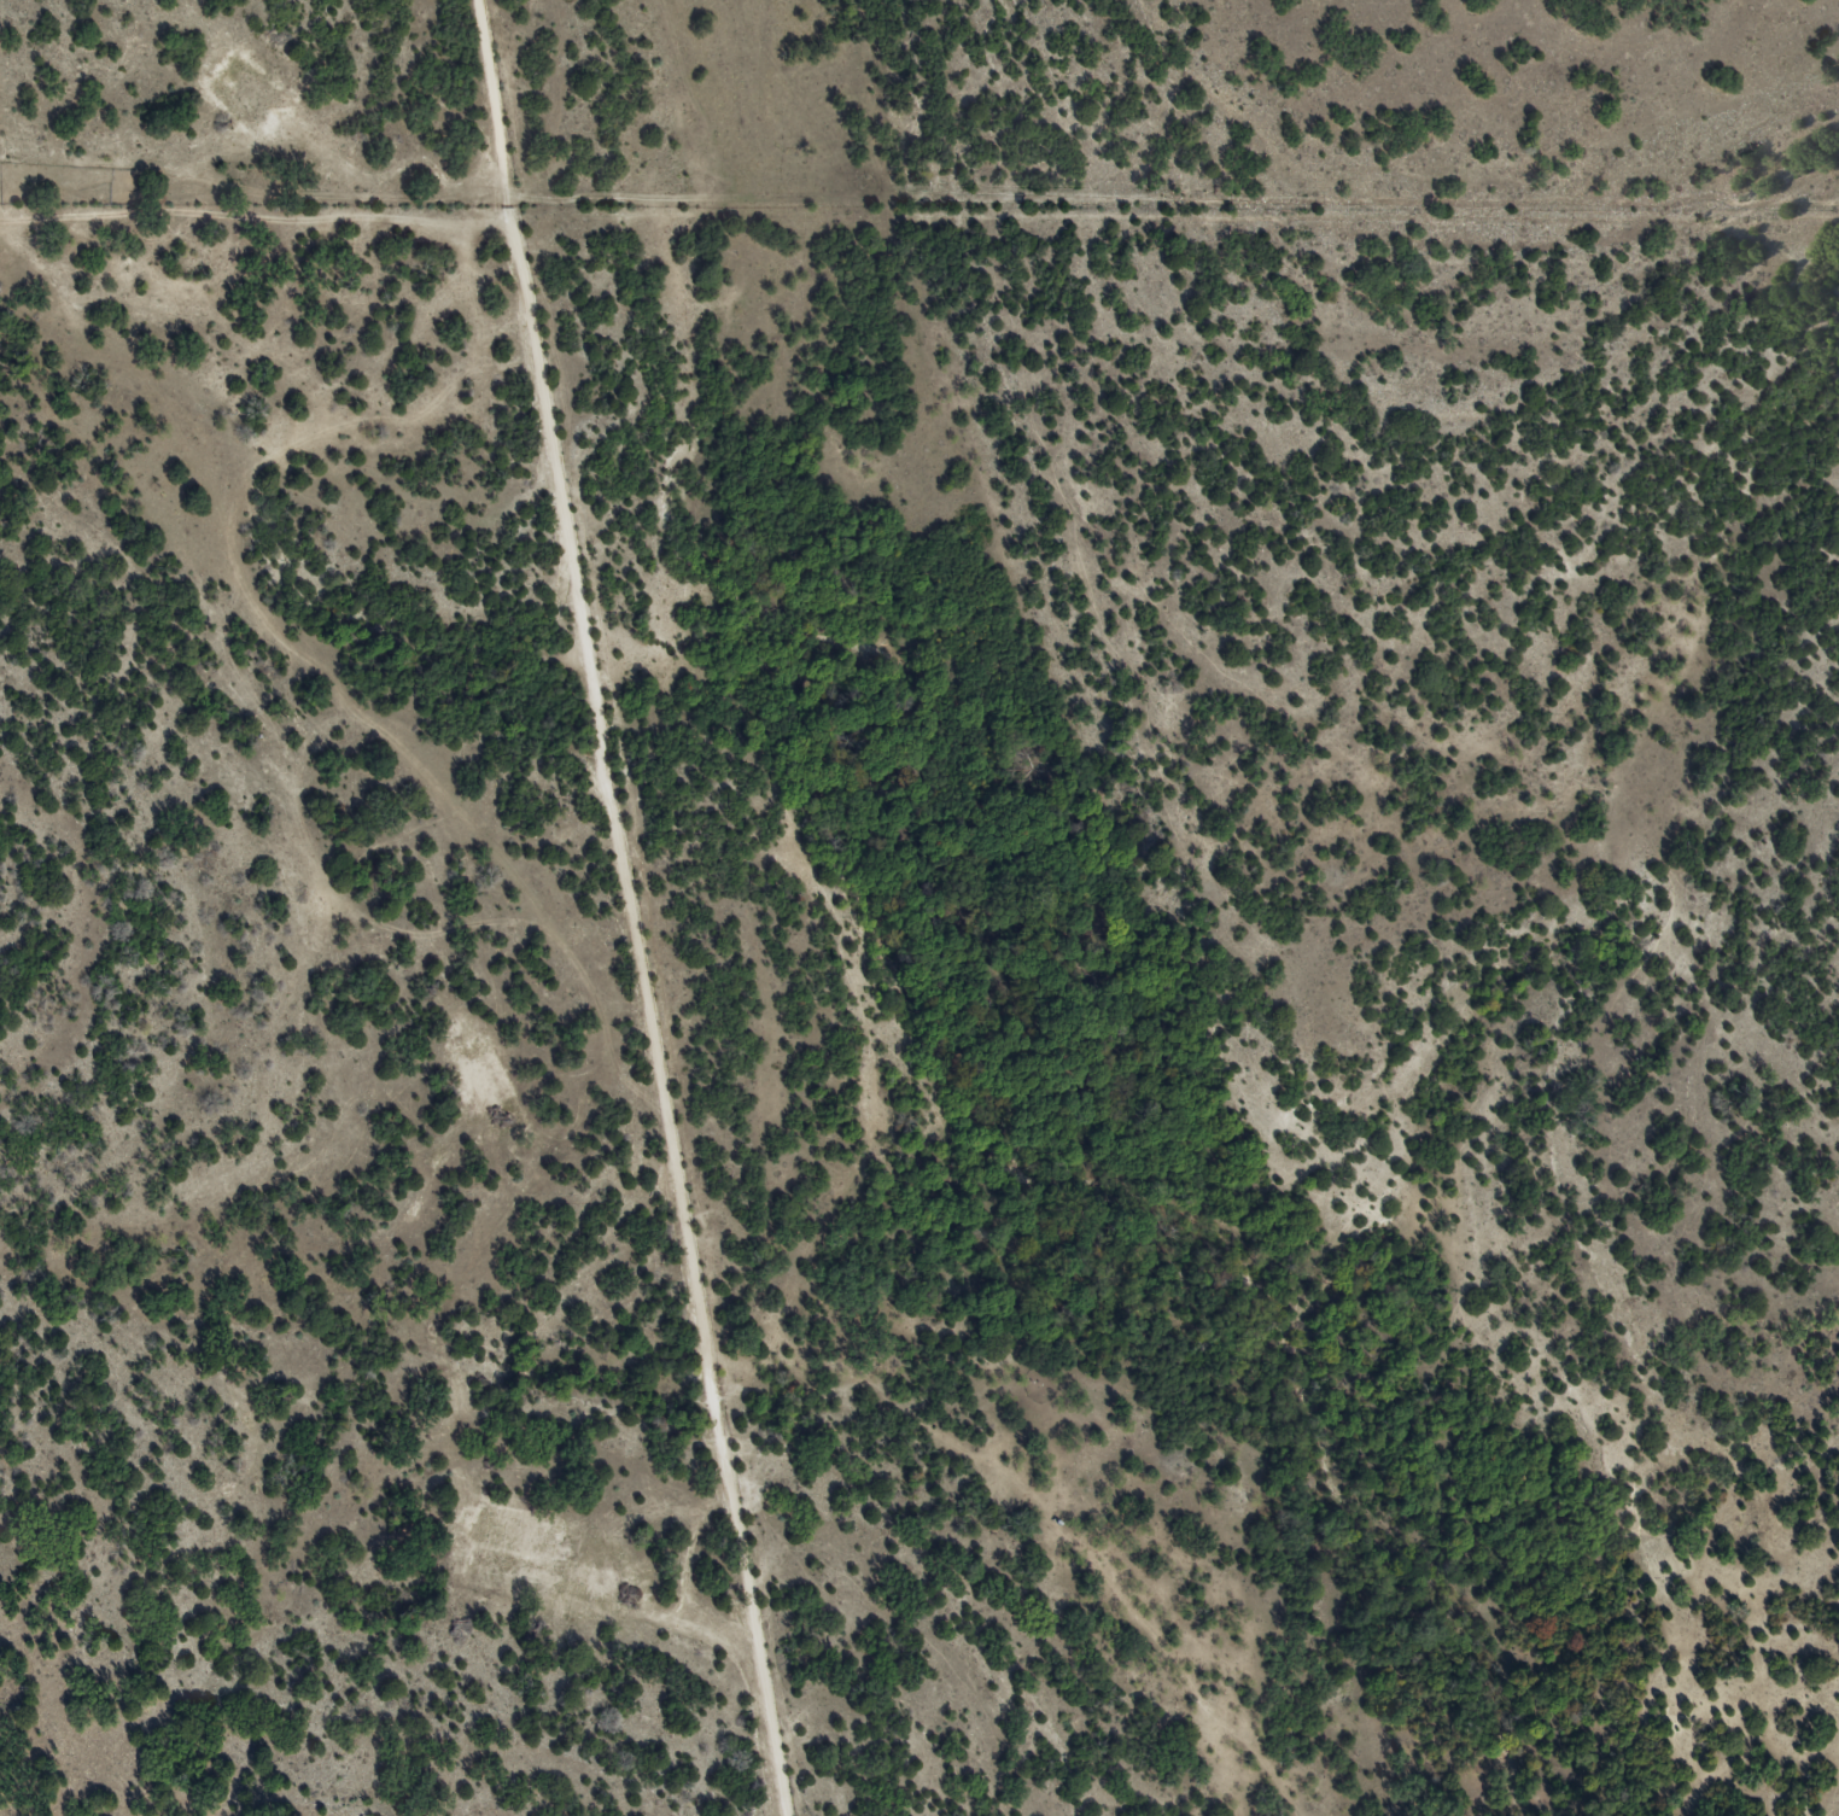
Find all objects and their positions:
road: (612, 1062)

